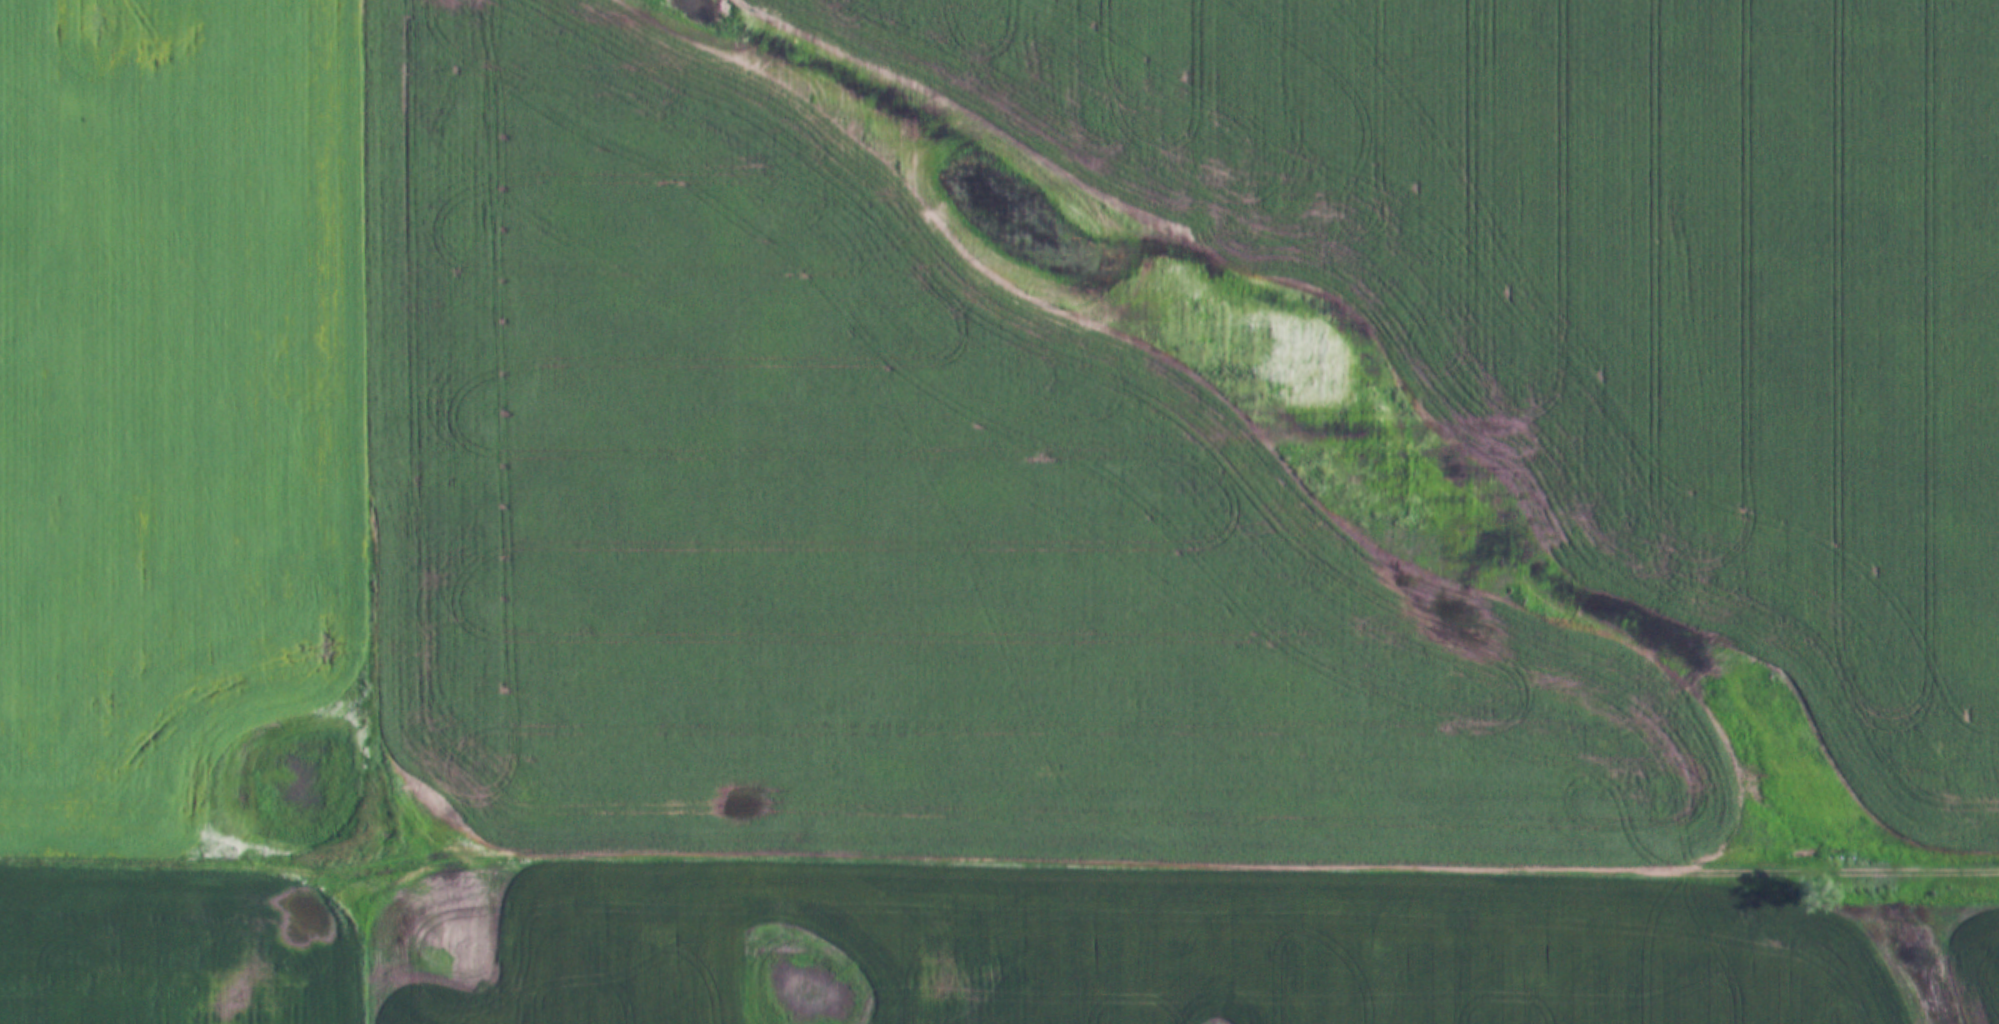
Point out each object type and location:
road: (999, 864)

